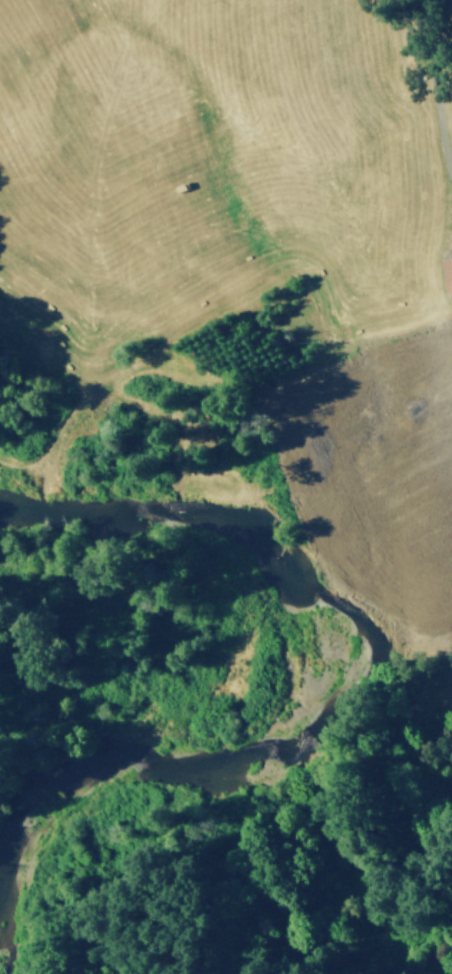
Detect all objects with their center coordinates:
crop: (242, 178)
building: (448, 273)
river: (295, 705)

